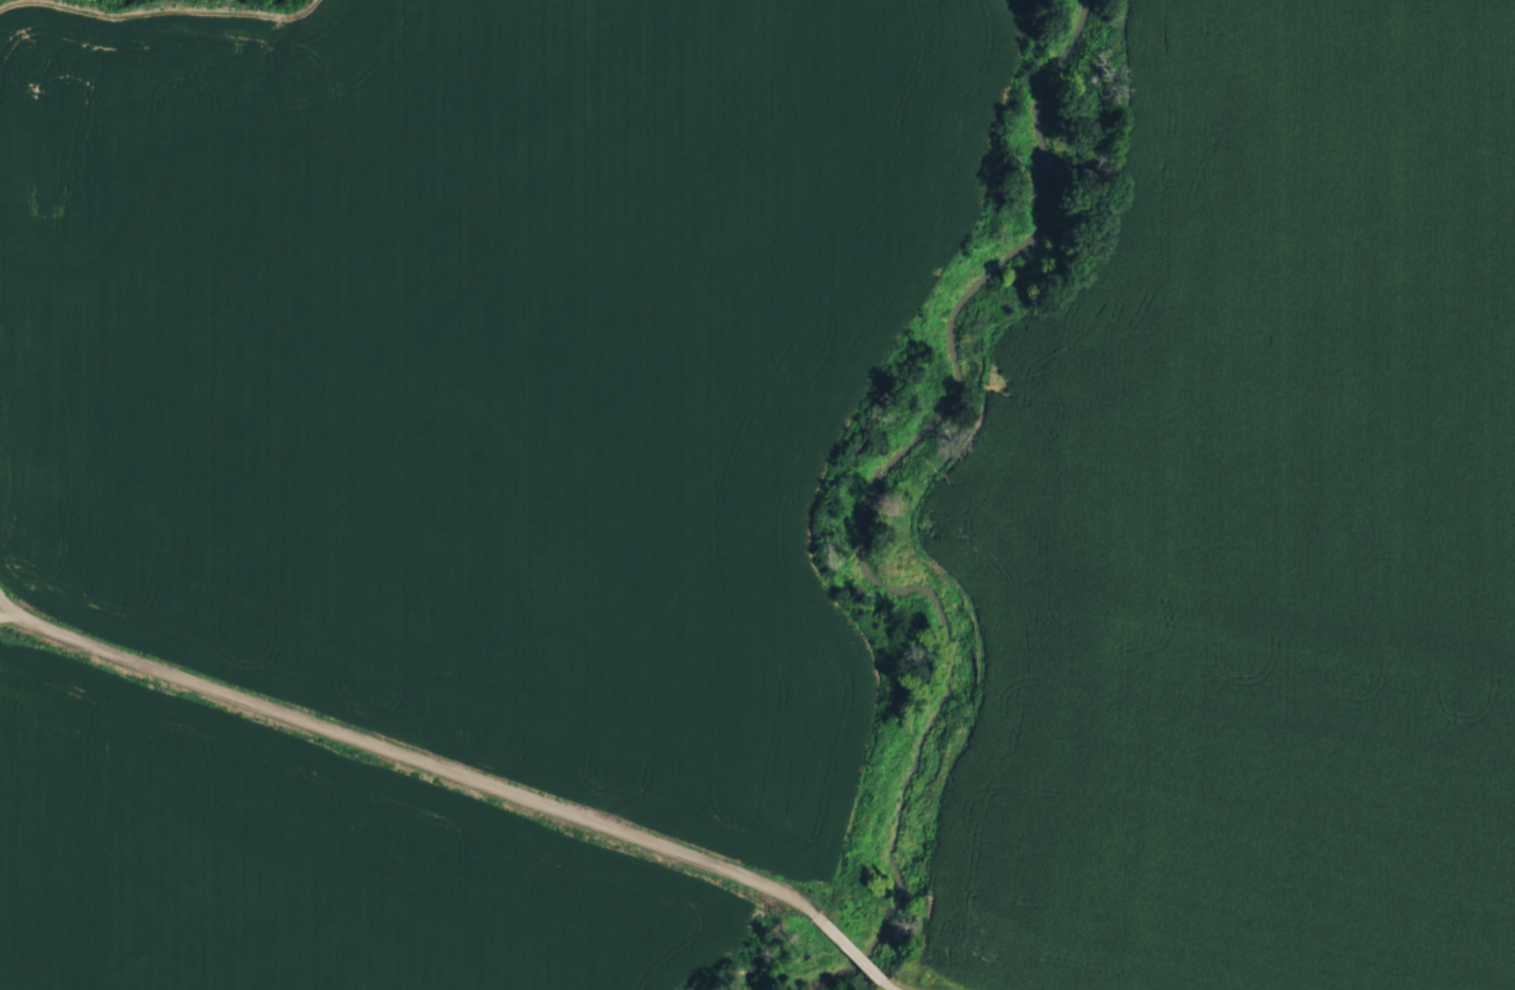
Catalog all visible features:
road: (6, 616)
road: (415, 763)
road: (858, 952)
road: (896, 988)

